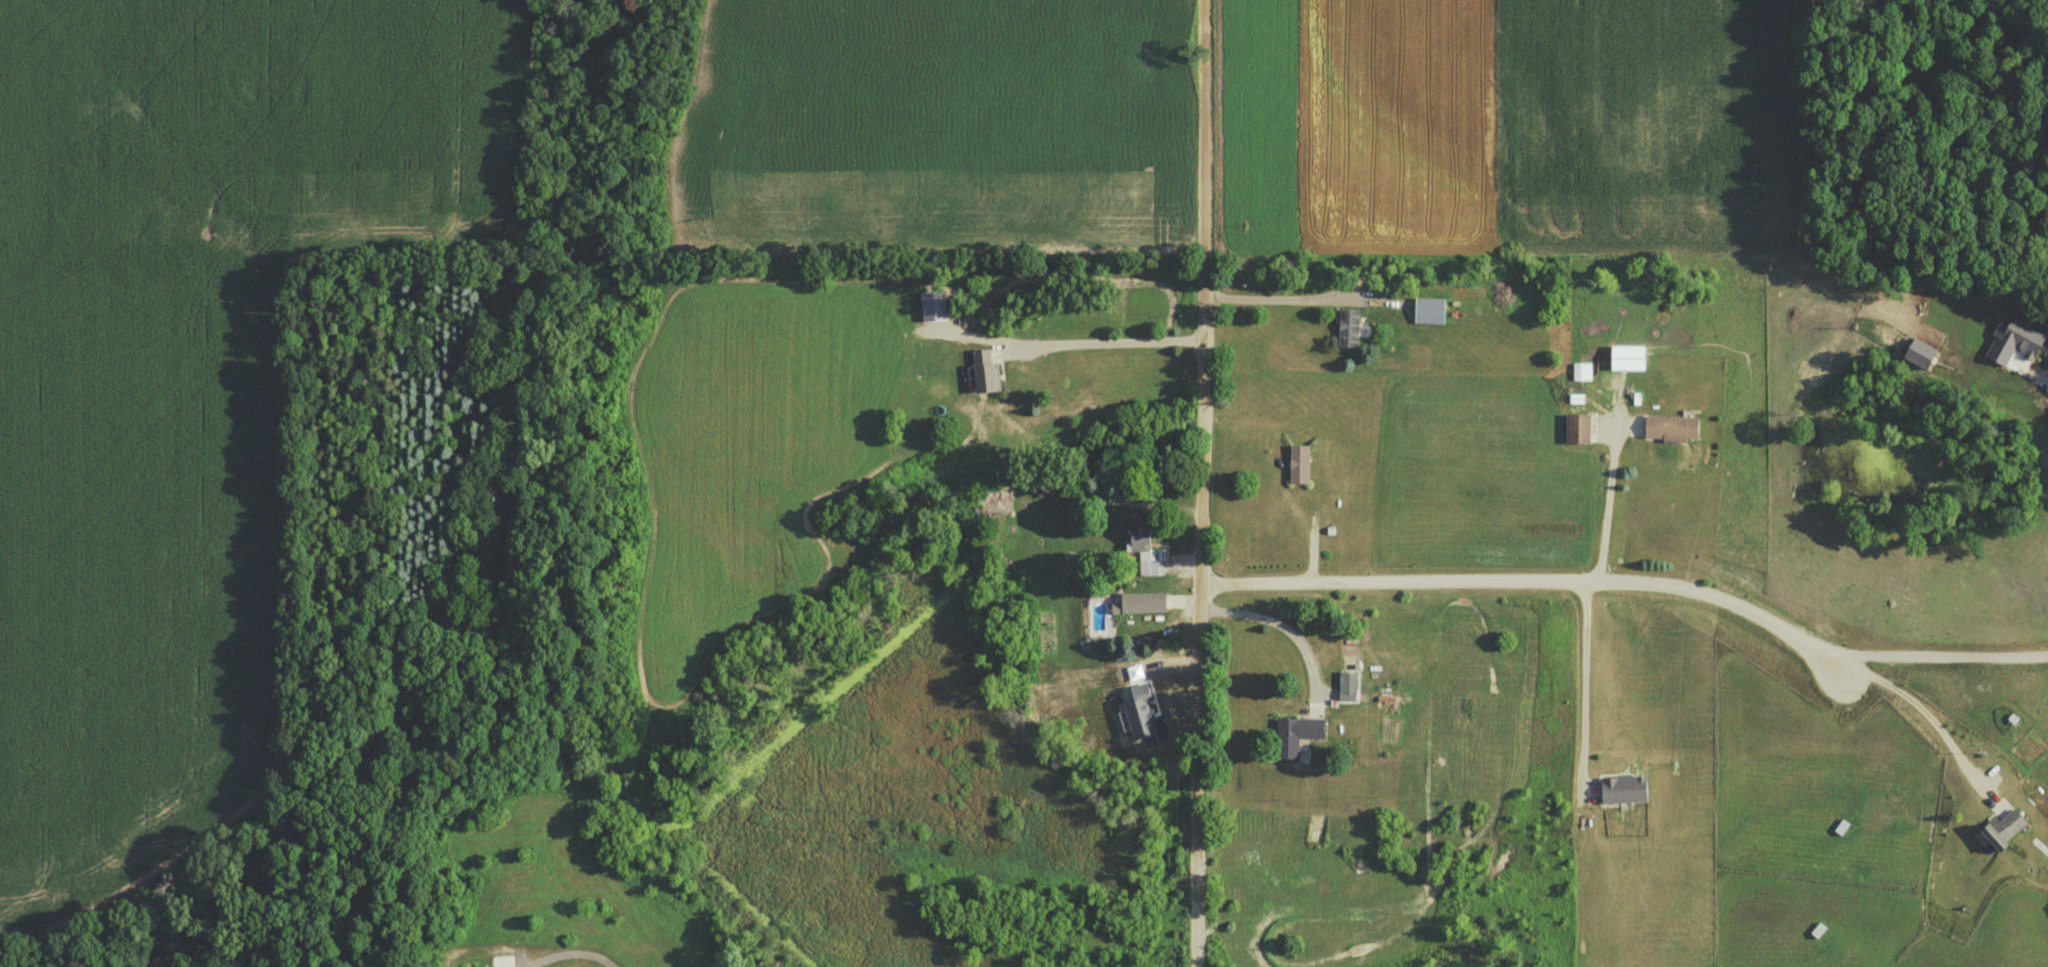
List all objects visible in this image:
road: (1291, 305)
building: (1346, 329)
road: (1066, 350)
building: (981, 371)
building: (1577, 372)
road: (2041, 385)
building: (1669, 428)
building: (1575, 430)
building: (1297, 463)
road: (1202, 483)
road: (1605, 502)
building: (988, 503)
building: (1143, 548)
road: (1534, 582)
building: (1141, 603)
road: (1278, 631)
road: (1938, 657)
building: (1346, 687)
road: (1581, 691)
road: (1927, 726)
building: (1293, 731)
building: (1621, 787)
building: (1999, 828)
road: (565, 950)

